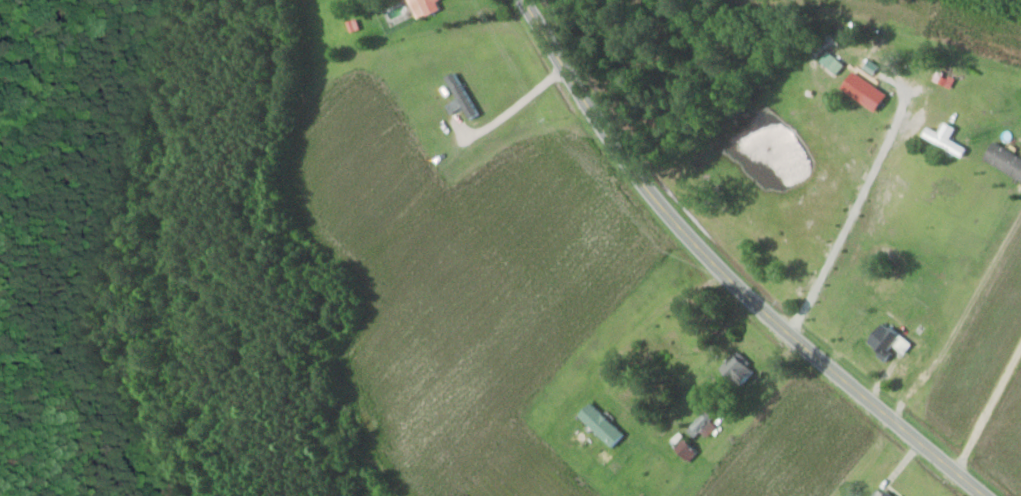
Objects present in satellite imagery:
building: (429, 7)
building: (835, 61)
building: (869, 90)
building: (463, 97)
building: (1007, 158)
road: (727, 274)
road: (961, 317)
building: (893, 339)
building: (741, 369)
building: (705, 421)
building: (605, 424)
building: (687, 445)
building: (891, 493)

